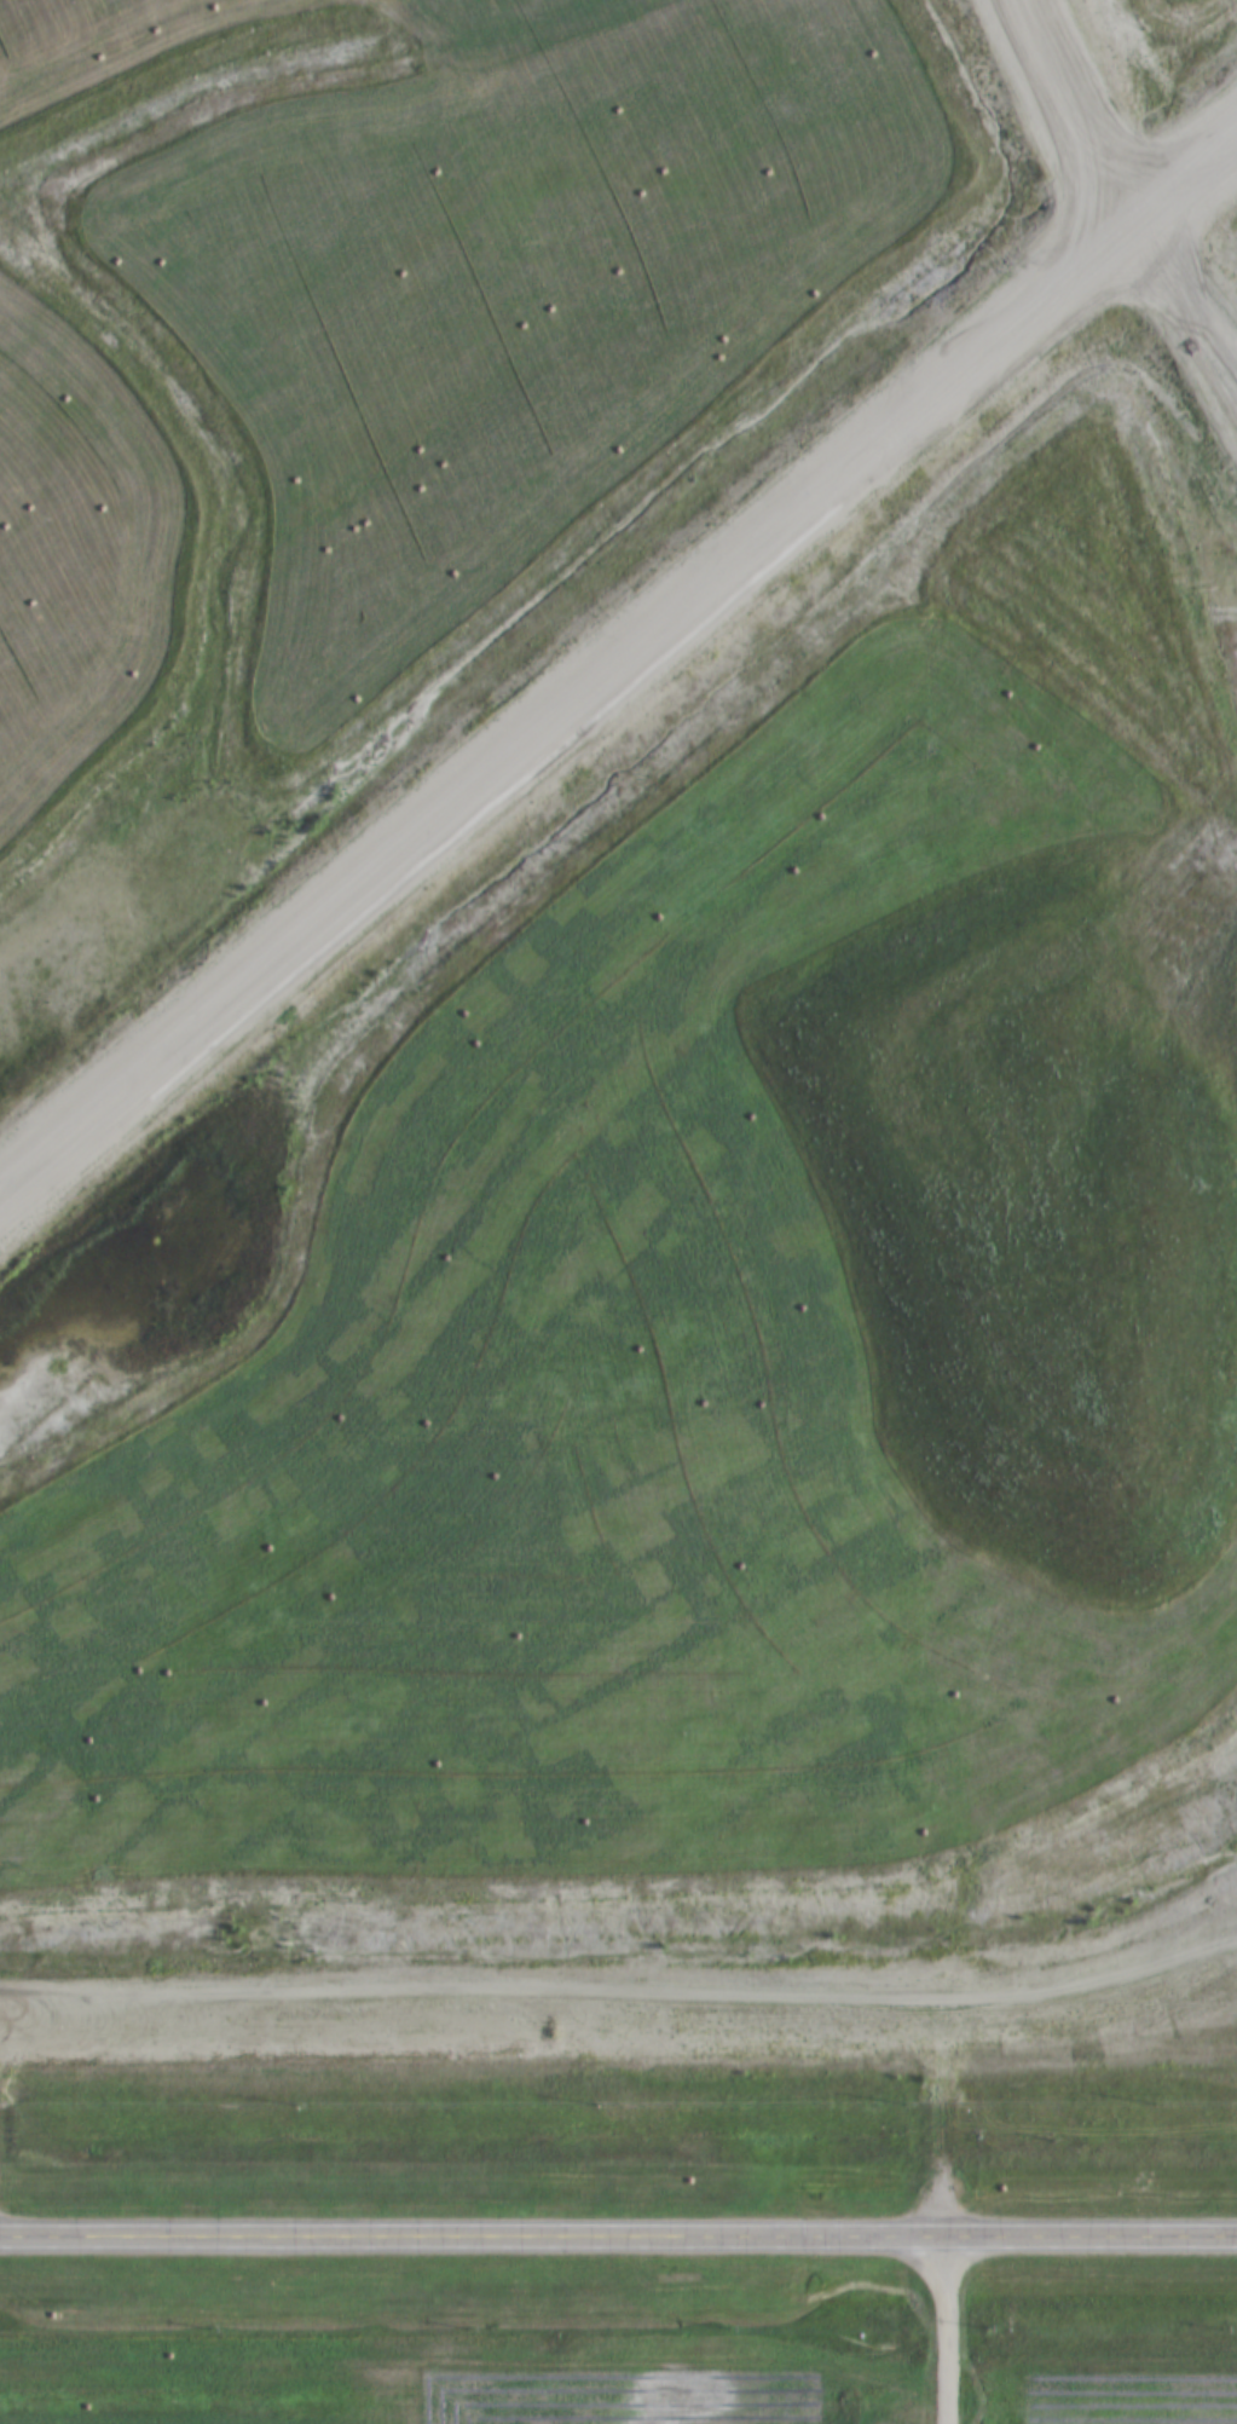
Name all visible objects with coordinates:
quarry: (728, 1420)
road: (618, 2235)

